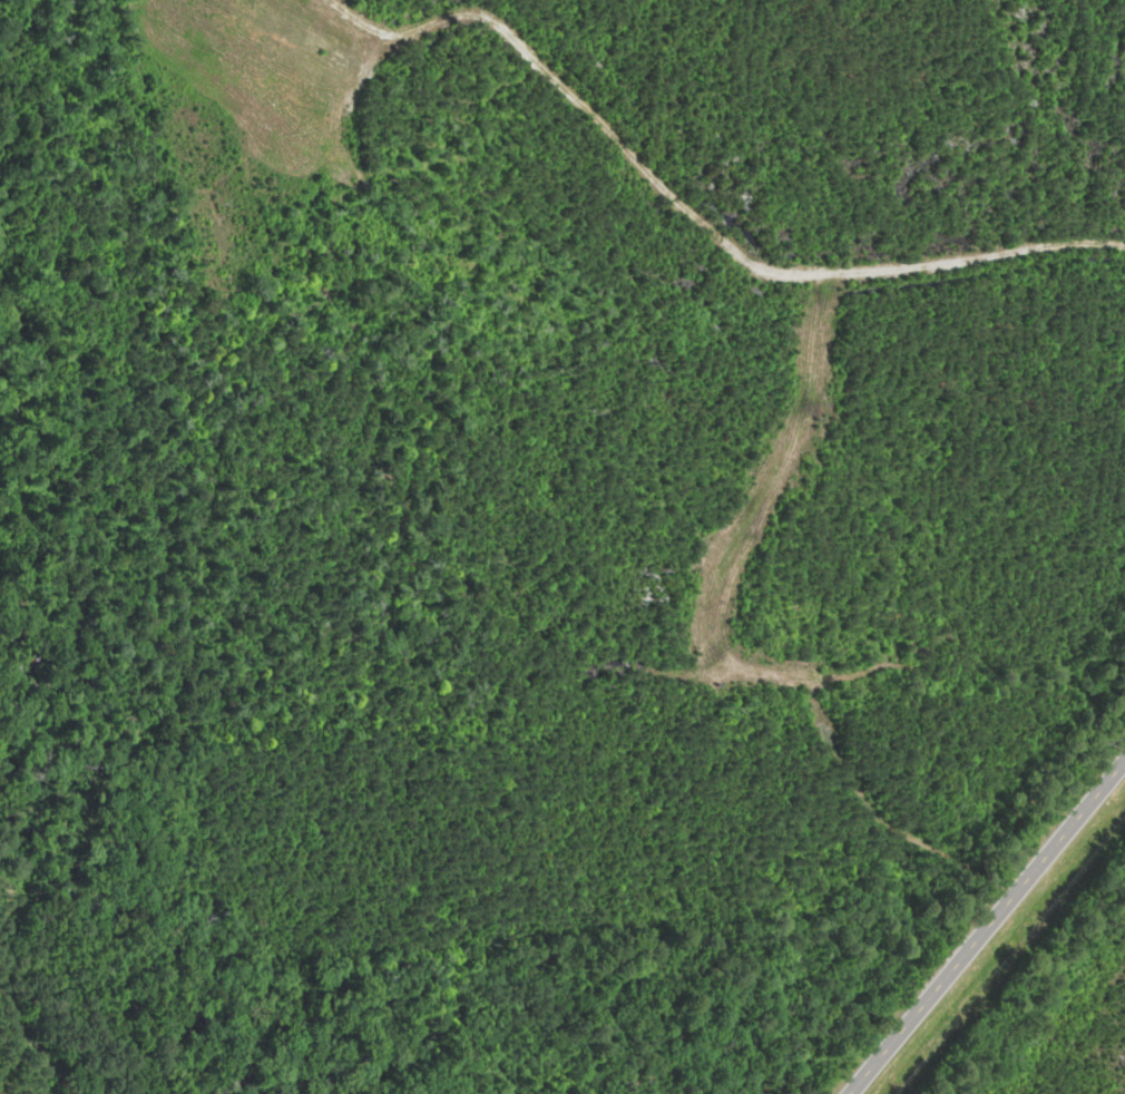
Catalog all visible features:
road: (986, 927)

